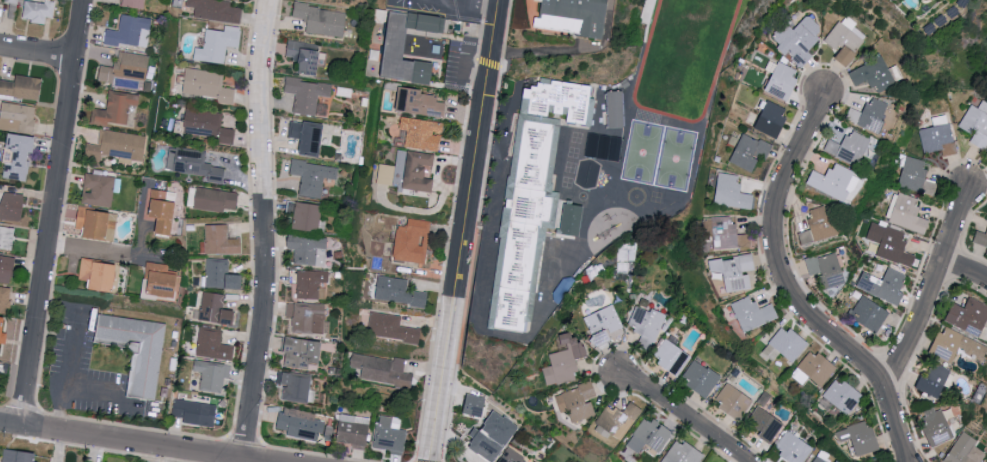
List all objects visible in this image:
road: (454, 2)
road: (469, 2)
building: (135, 4)
road: (482, 6)
parking lot: (445, 7)
road: (455, 9)
building: (216, 10)
road: (484, 10)
building: (39, 11)
building: (572, 16)
building: (322, 19)
road: (480, 27)
building: (128, 30)
building: (799, 39)
building: (846, 39)
building: (218, 44)
track: (647, 45)
building: (393, 48)
road: (567, 48)
road: (37, 51)
park: (684, 51)
building: (304, 56)
track: (684, 56)
road: (487, 62)
building: (128, 67)
road: (461, 67)
parking lot: (459, 68)
building: (877, 73)
road: (473, 75)
building: (784, 81)
building: (22, 86)
building: (208, 86)
building: (309, 96)
building: (419, 102)
building: (561, 102)
building: (116, 108)
building: (614, 111)
building: (870, 114)
building: (18, 117)
building: (772, 119)
building: (977, 124)
building: (206, 125)
building: (422, 133)
building: (308, 136)
building: (938, 136)
building: (118, 145)
building: (850, 147)
building: (602, 148)
building: (750, 151)
park: (643, 154)
building: (21, 155)
park: (676, 160)
building: (192, 163)
building: (418, 171)
building: (385, 174)
building: (915, 176)
building: (313, 177)
building: (835, 181)
building: (98, 189)
building: (732, 191)
building: (217, 199)
building: (12, 206)
building: (163, 210)
road: (53, 212)
building: (907, 213)
building: (306, 216)
building: (570, 221)
building: (97, 222)
building: (822, 222)
road: (142, 223)
building: (524, 224)
road: (261, 229)
road: (463, 230)
building: (726, 234)
building: (7, 237)
building: (806, 237)
building: (981, 238)
building: (220, 240)
building: (413, 241)
building: (891, 243)
building: (309, 250)
road: (111, 251)
road: (471, 264)
building: (7, 268)
building: (827, 269)
building: (735, 271)
road: (965, 271)
building: (100, 274)
building: (221, 275)
building: (163, 279)
building: (310, 283)
building: (885, 285)
building: (399, 291)
road: (792, 291)
road: (929, 291)
building: (5, 299)
building: (753, 313)
building: (870, 313)
building: (970, 316)
building: (309, 317)
building: (603, 324)
building: (647, 326)
building: (392, 327)
building: (2, 332)
building: (787, 344)
building: (213, 345)
building: (956, 345)
building: (302, 352)
building: (671, 357)
building: (565, 360)
parking lot: (82, 367)
building: (818, 367)
building: (382, 369)
road: (68, 372)
building: (146, 372)
building: (213, 375)
building: (0, 376)
building: (702, 378)
building: (934, 380)
building: (296, 386)
road: (114, 395)
building: (843, 395)
building: (735, 400)
building: (578, 401)
building: (476, 404)
building: (196, 412)
road: (686, 418)
building: (617, 420)
building: (765, 424)
building: (303, 425)
building: (937, 425)
building: (501, 427)
building: (353, 431)
building: (389, 433)
building: (650, 436)
building: (862, 437)
road: (130, 442)
building: (486, 446)
building: (794, 448)
building: (964, 450)
building: (683, 453)
building: (19, 456)
building: (511, 456)
building: (819, 459)
road: (237, 460)
building: (836, 461)
building: (986, 461)

